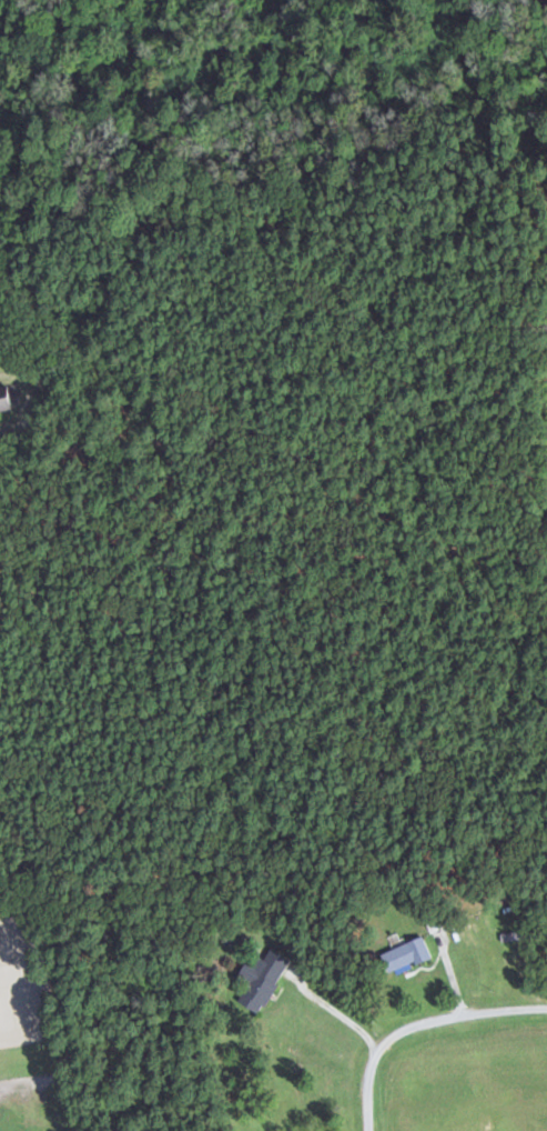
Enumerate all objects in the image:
building: (9, 398)
building: (413, 953)
building: (264, 977)
road: (411, 1013)

